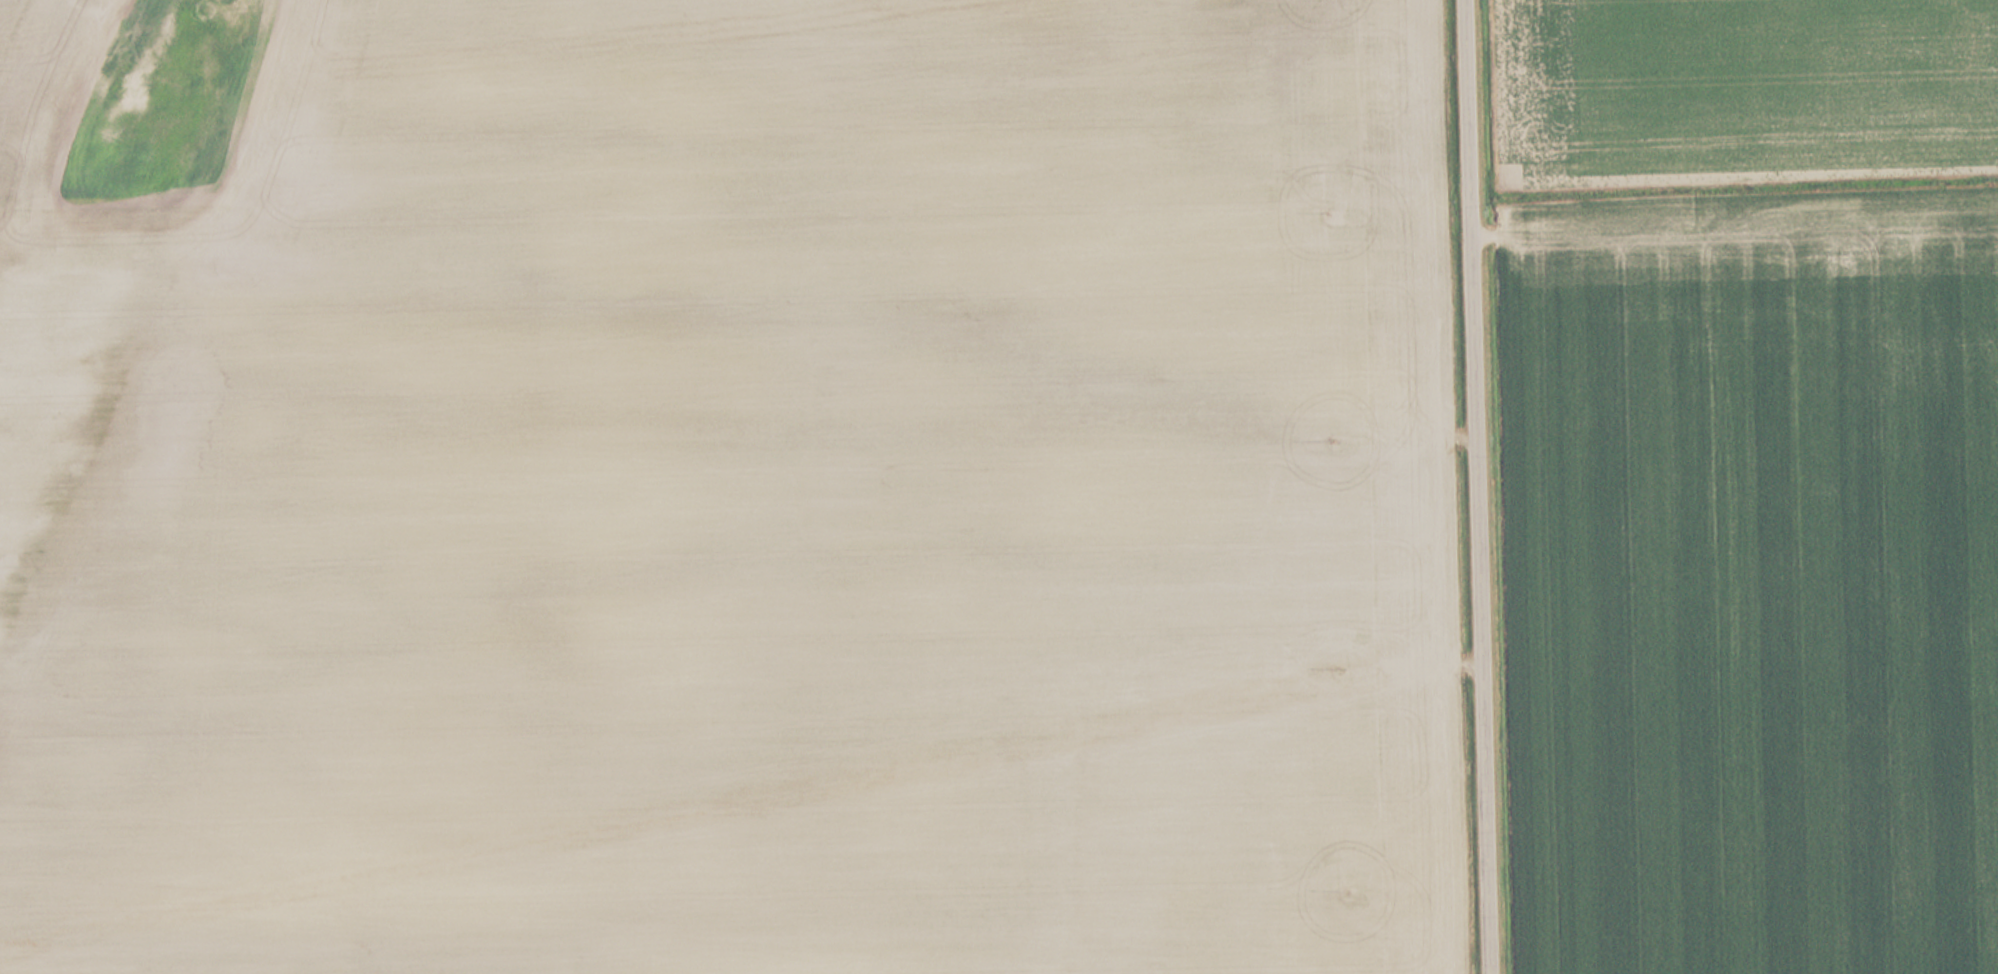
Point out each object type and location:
building: (1221, 3)
road: (1484, 487)

